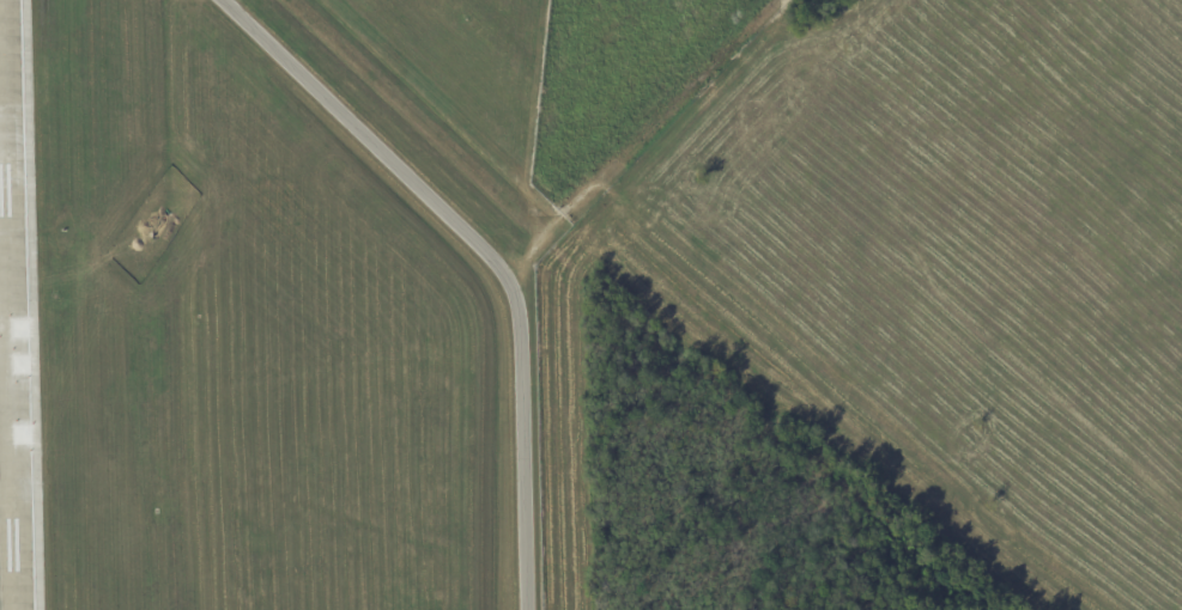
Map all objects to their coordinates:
road: (357, 139)
road: (637, 139)
airport: (590, 305)
road: (520, 443)

